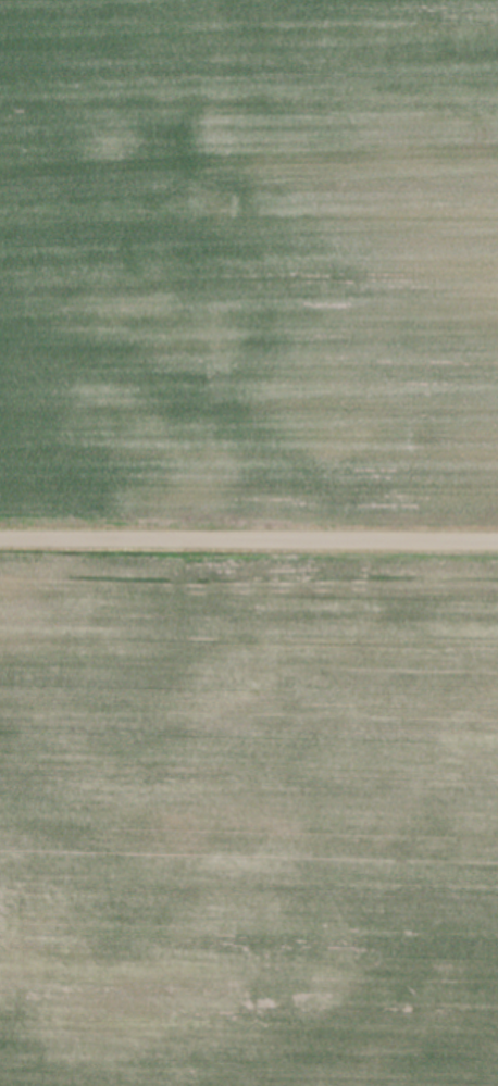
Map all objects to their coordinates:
road: (249, 528)

